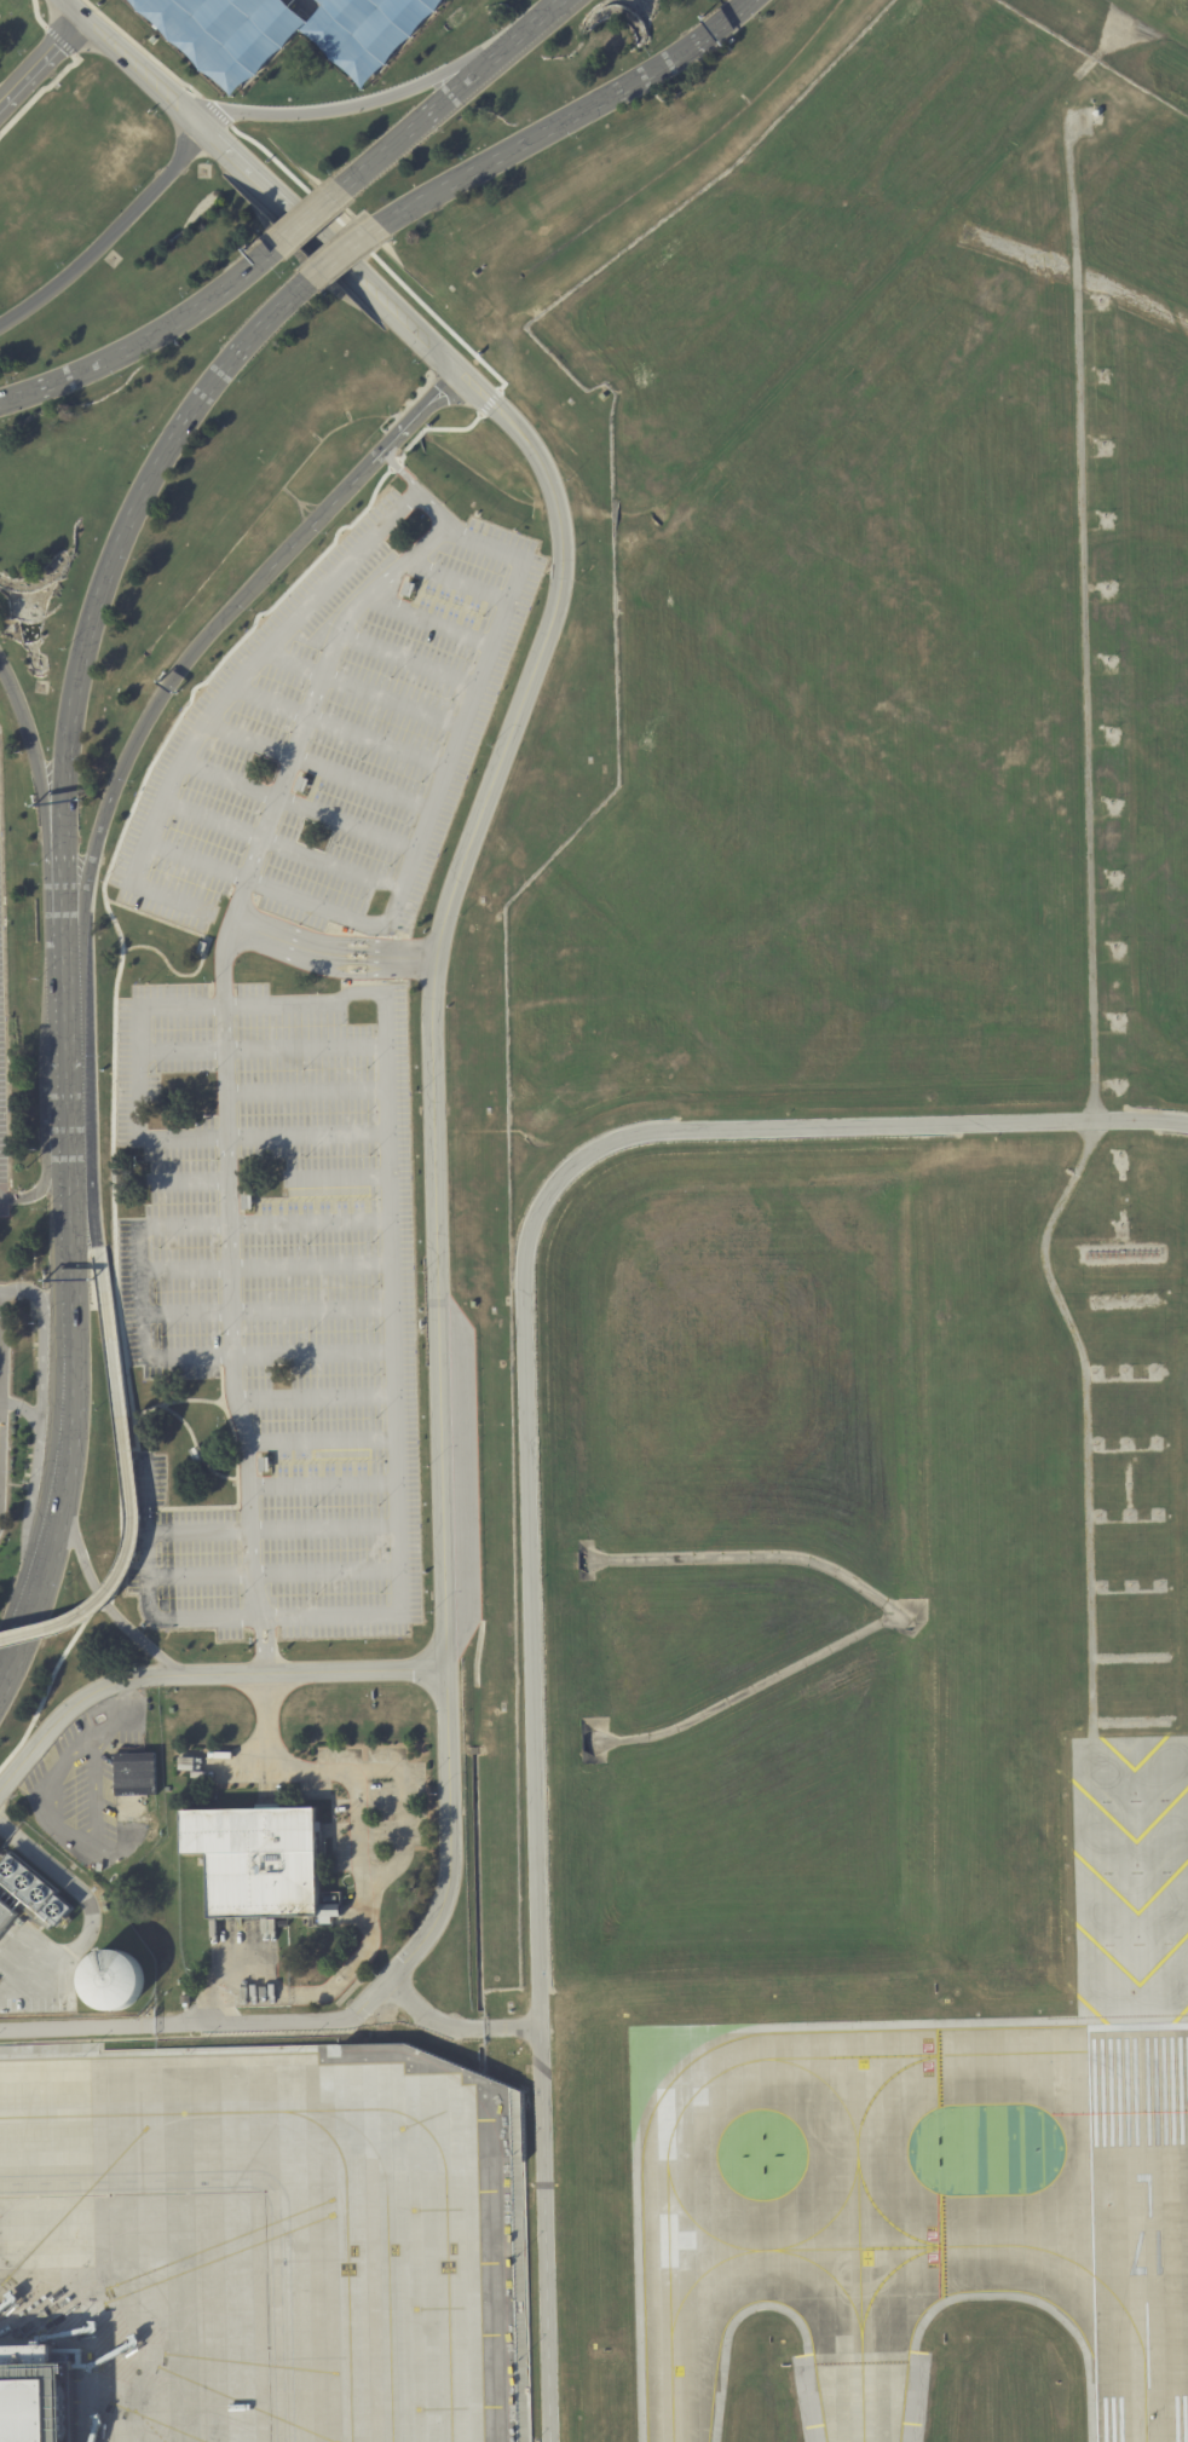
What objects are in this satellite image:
road: (35, 15)
road: (543, 21)
parking lot: (287, 33)
building: (350, 34)
road: (59, 40)
road: (40, 62)
road: (131, 64)
road: (40, 90)
road: (365, 104)
road: (431, 114)
road: (567, 115)
road: (308, 218)
road: (109, 235)
road: (345, 249)
road: (331, 250)
road: (145, 340)
road: (421, 414)
road: (379, 458)
road: (399, 469)
road: (321, 516)
road: (121, 535)
road: (454, 581)
road: (425, 619)
road: (403, 660)
road: (359, 687)
road: (12, 694)
road: (218, 699)
road: (336, 724)
road: (312, 764)
road: (121, 774)
road: (42, 784)
road: (296, 802)
road: (421, 826)
road: (278, 845)
road: (62, 935)
road: (330, 952)
road: (432, 991)
road: (142, 1006)
road: (220, 1039)
road: (64, 1040)
road: (259, 1046)
parking lot: (2, 1068)
road: (302, 1090)
road: (67, 1093)
road: (44, 1177)
road: (189, 1177)
road: (338, 1177)
road: (91, 1184)
airport: (594, 1220)
road: (69, 1235)
road: (265, 1264)
road: (142, 1288)
road: (27, 1289)
road: (266, 1309)
road: (0, 1366)
road: (311, 1398)
road: (22, 1408)
road: (65, 1419)
road: (36, 1430)
road: (318, 1441)
road: (127, 1482)
road: (321, 1483)
road: (523, 1484)
road: (269, 1525)
road: (44, 1552)
road: (270, 1570)
road: (397, 1576)
road: (99, 1597)
road: (12, 1620)
road: (16, 1647)
road: (200, 1673)
road: (265, 1715)
road: (116, 1736)
building: (134, 1785)
road: (356, 1822)
building: (135, 1834)
building: (259, 1863)
road: (376, 1872)
building: (25, 1886)
road: (73, 1886)
building: (6, 1915)
building: (313, 1929)
building: (113, 1981)
storage tank: (113, 1981)
building: (185, 1996)
road: (364, 2005)
road: (432, 2015)
road: (507, 2025)
airport taxiway: (1111, 2050)
airport taxiway: (1163, 2050)
airport taxiway: (968, 2053)
airport taxiway: (881, 2083)
airport taxiway: (697, 2085)
airport taxiway: (151, 2115)
building: (461, 2120)
road: (269, 2178)
airport taxiway: (883, 2216)
airport taxiway: (451, 2218)
airport taxiway: (824, 2222)
airport runway: (1142, 2235)
airport apron: (267, 2244)
airport taxiway: (1020, 2245)
airport taxiway: (857, 2248)
airport taxiway: (699, 2275)
airport taxiway: (829, 2275)
airport taxiway: (884, 2275)
airport taxiway: (669, 2300)
airport terminal: (28, 2400)
building: (28, 2400)

